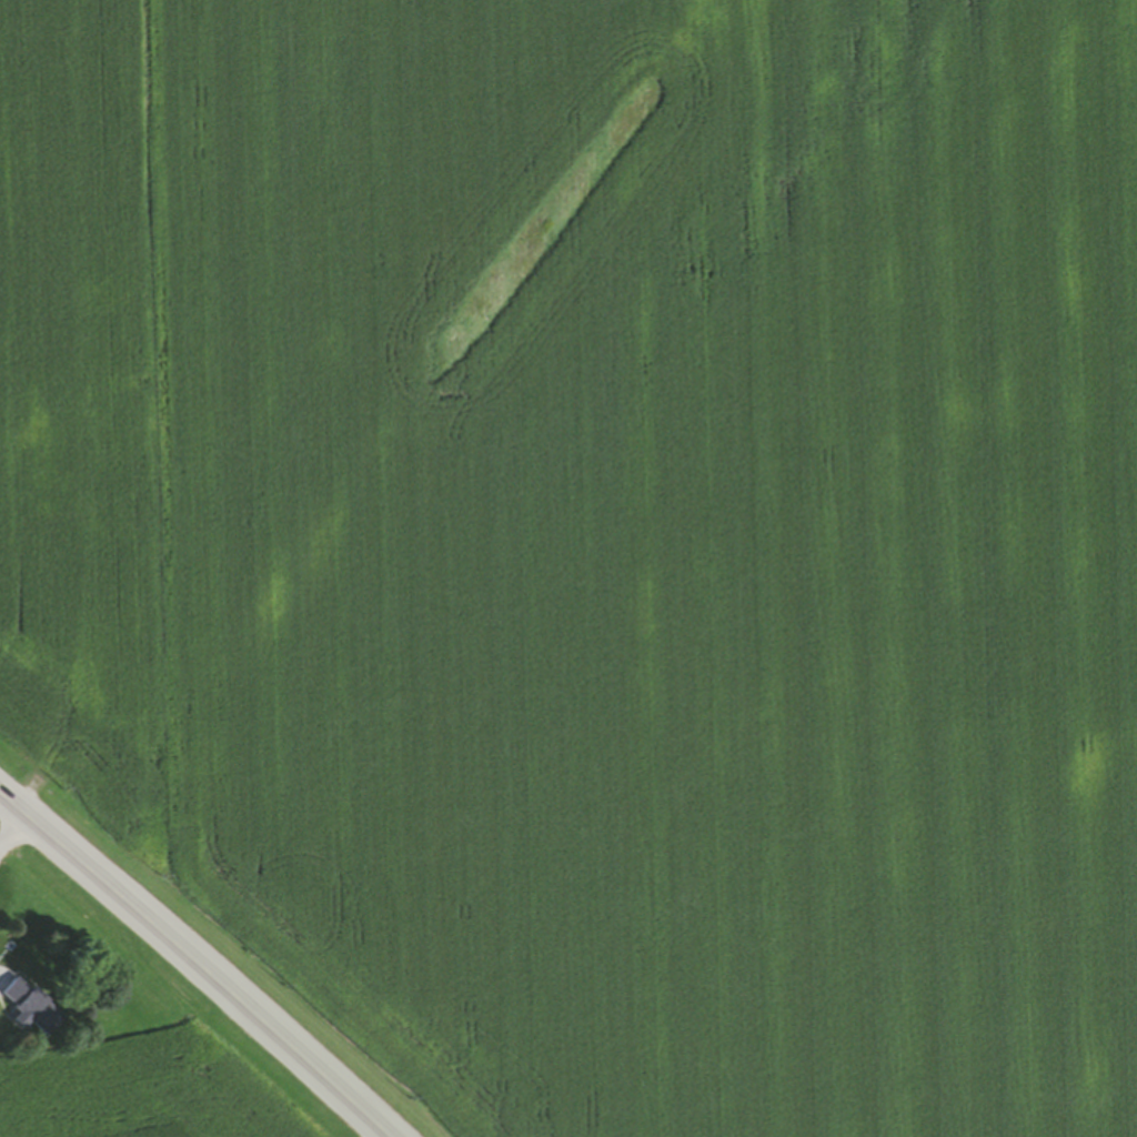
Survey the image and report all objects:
road: (6, 829)
road: (184, 976)
building: (24, 1010)

